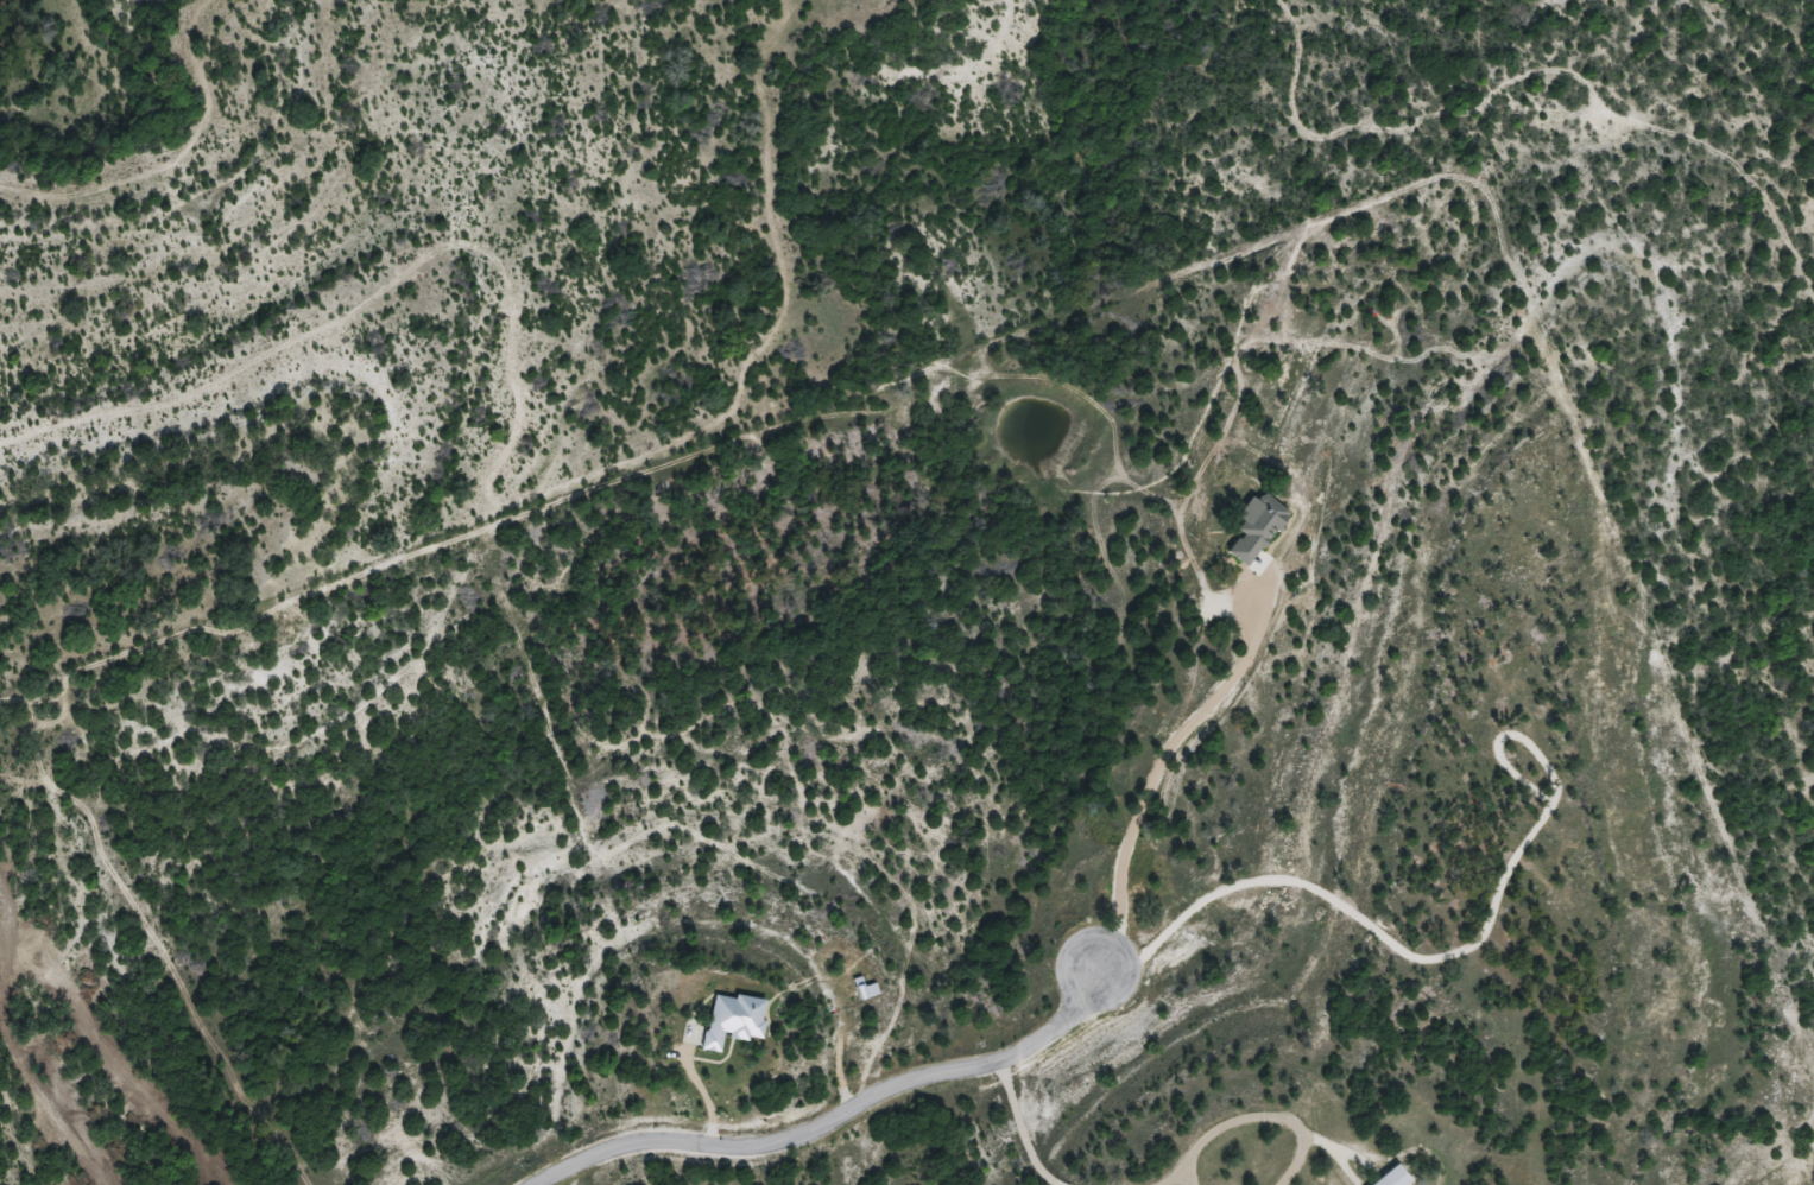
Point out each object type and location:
road: (1149, 775)
road: (836, 1116)
road: (1007, 1127)
building: (1382, 1180)

